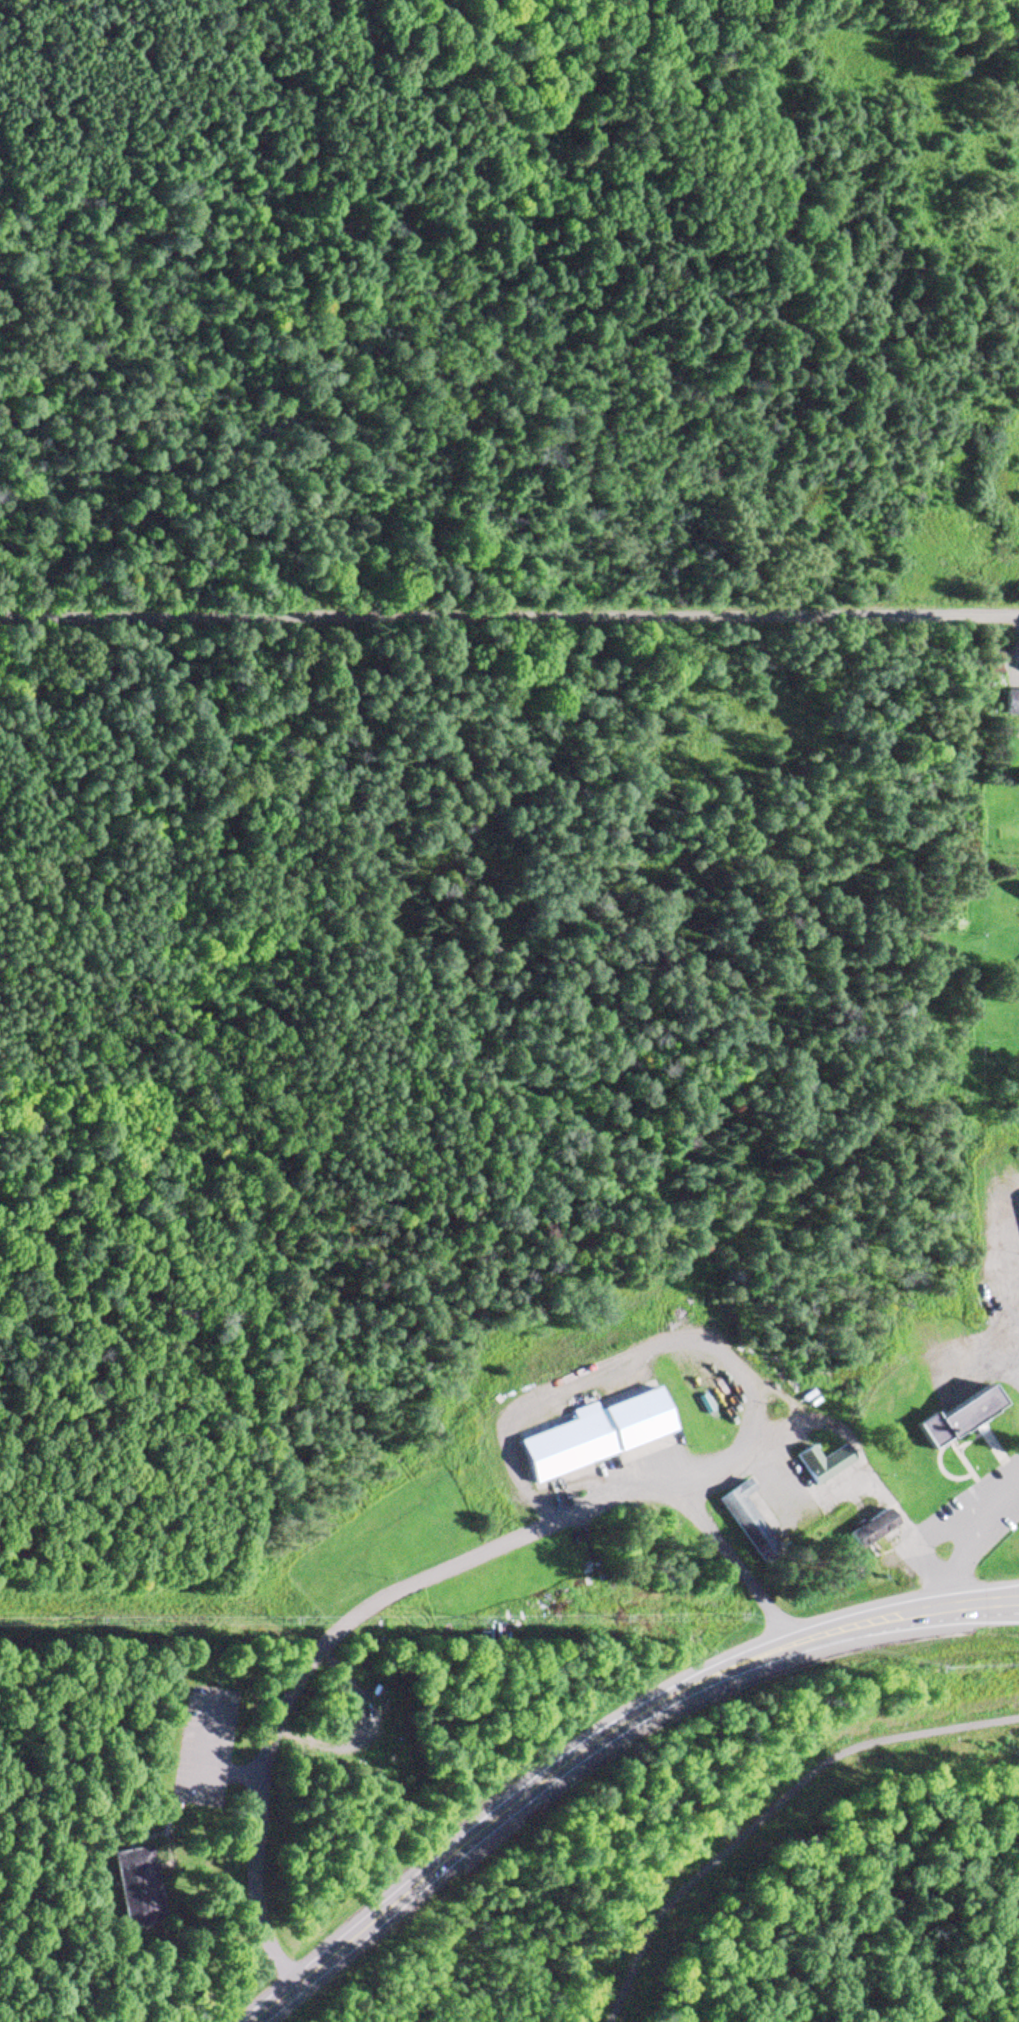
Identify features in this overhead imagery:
road: (120, 537)
road: (509, 632)
building: (992, 663)
building: (1009, 703)
building: (956, 1416)
building: (587, 1440)
building: (821, 1463)
building: (745, 1520)
building: (870, 1530)
road: (967, 1543)
road: (601, 1745)
road: (770, 1809)
building: (135, 1887)

